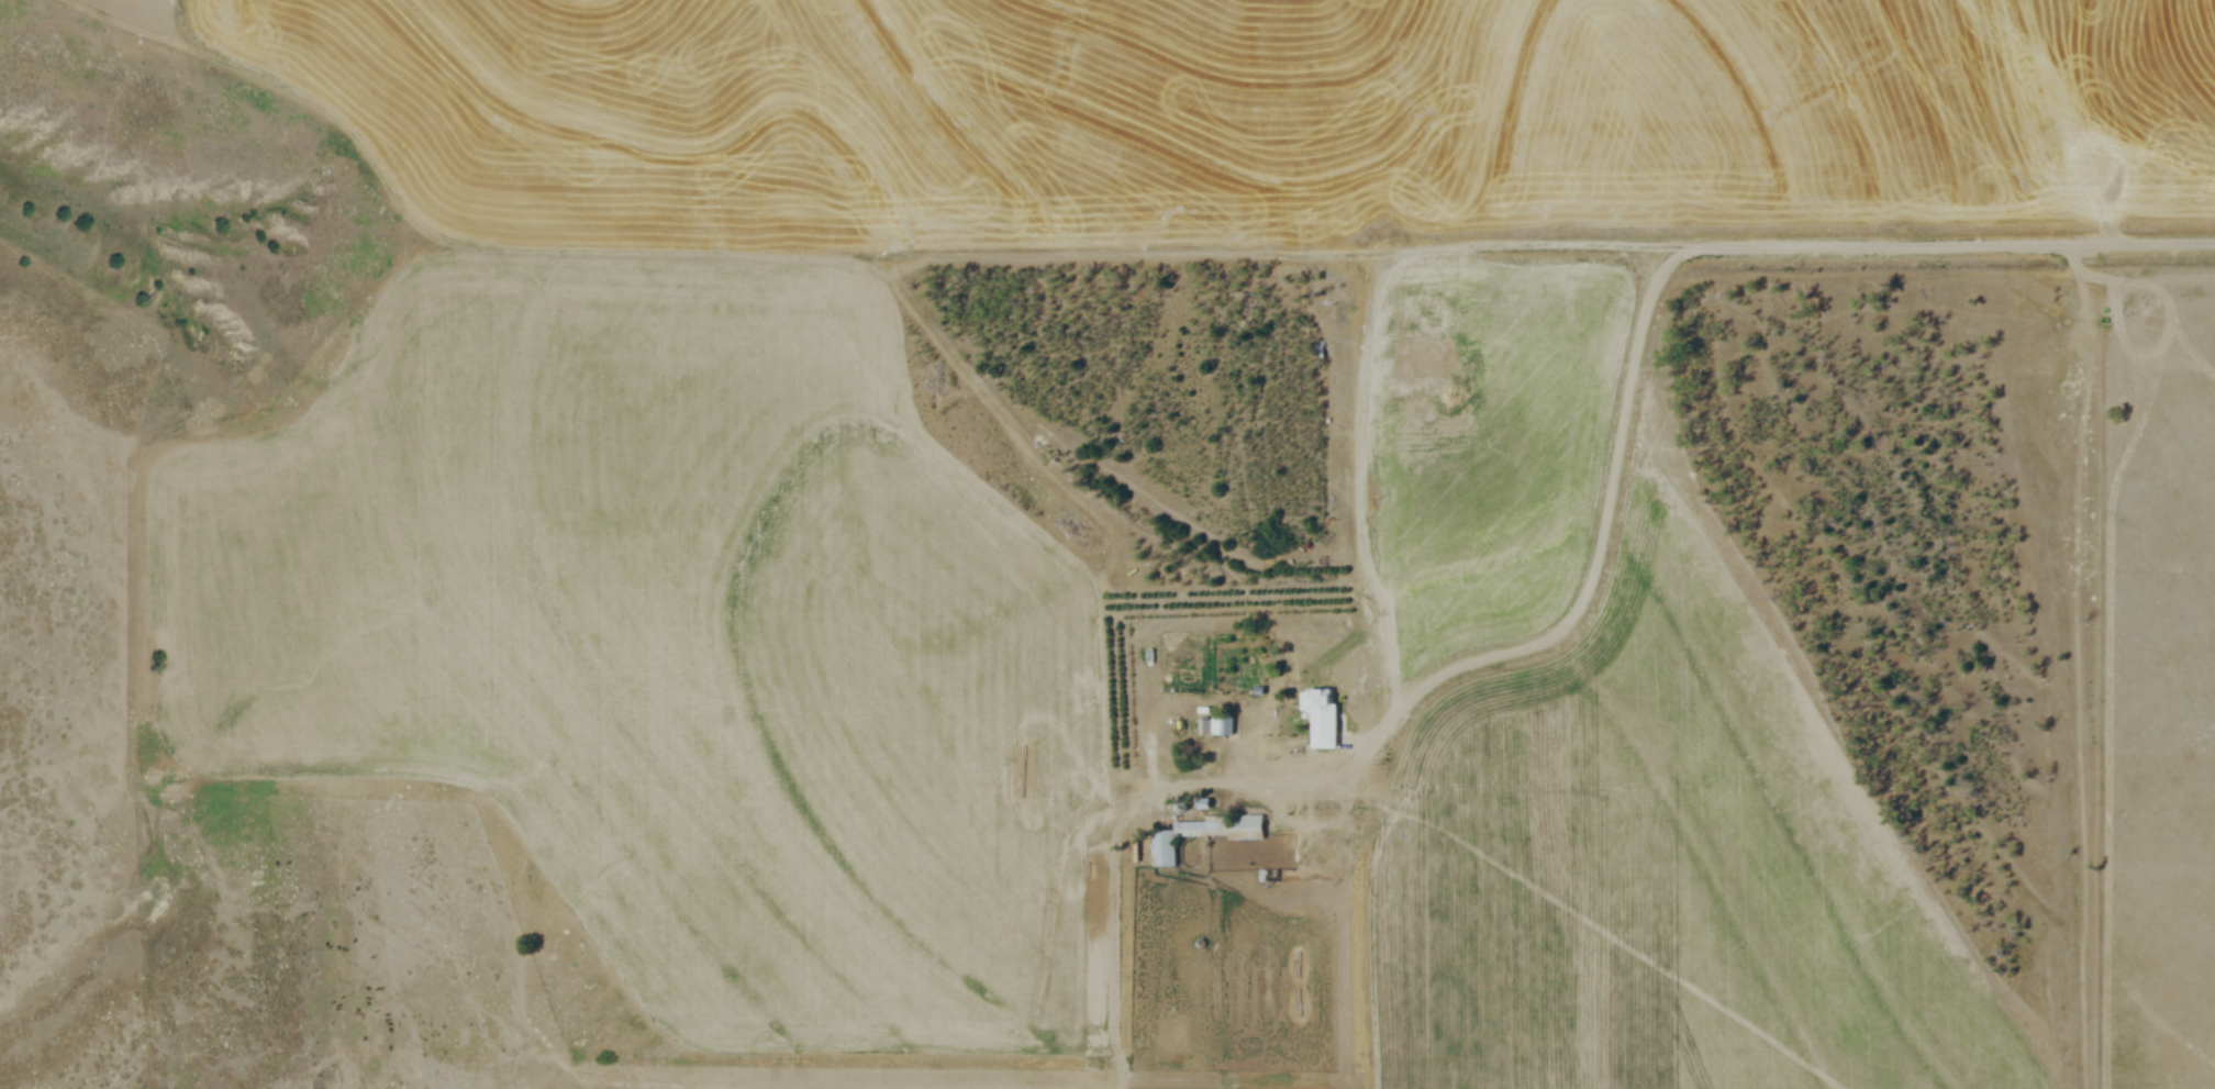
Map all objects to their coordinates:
road: (1627, 243)
building: (1320, 716)
building: (1218, 724)
building: (1204, 833)
building: (1268, 875)

